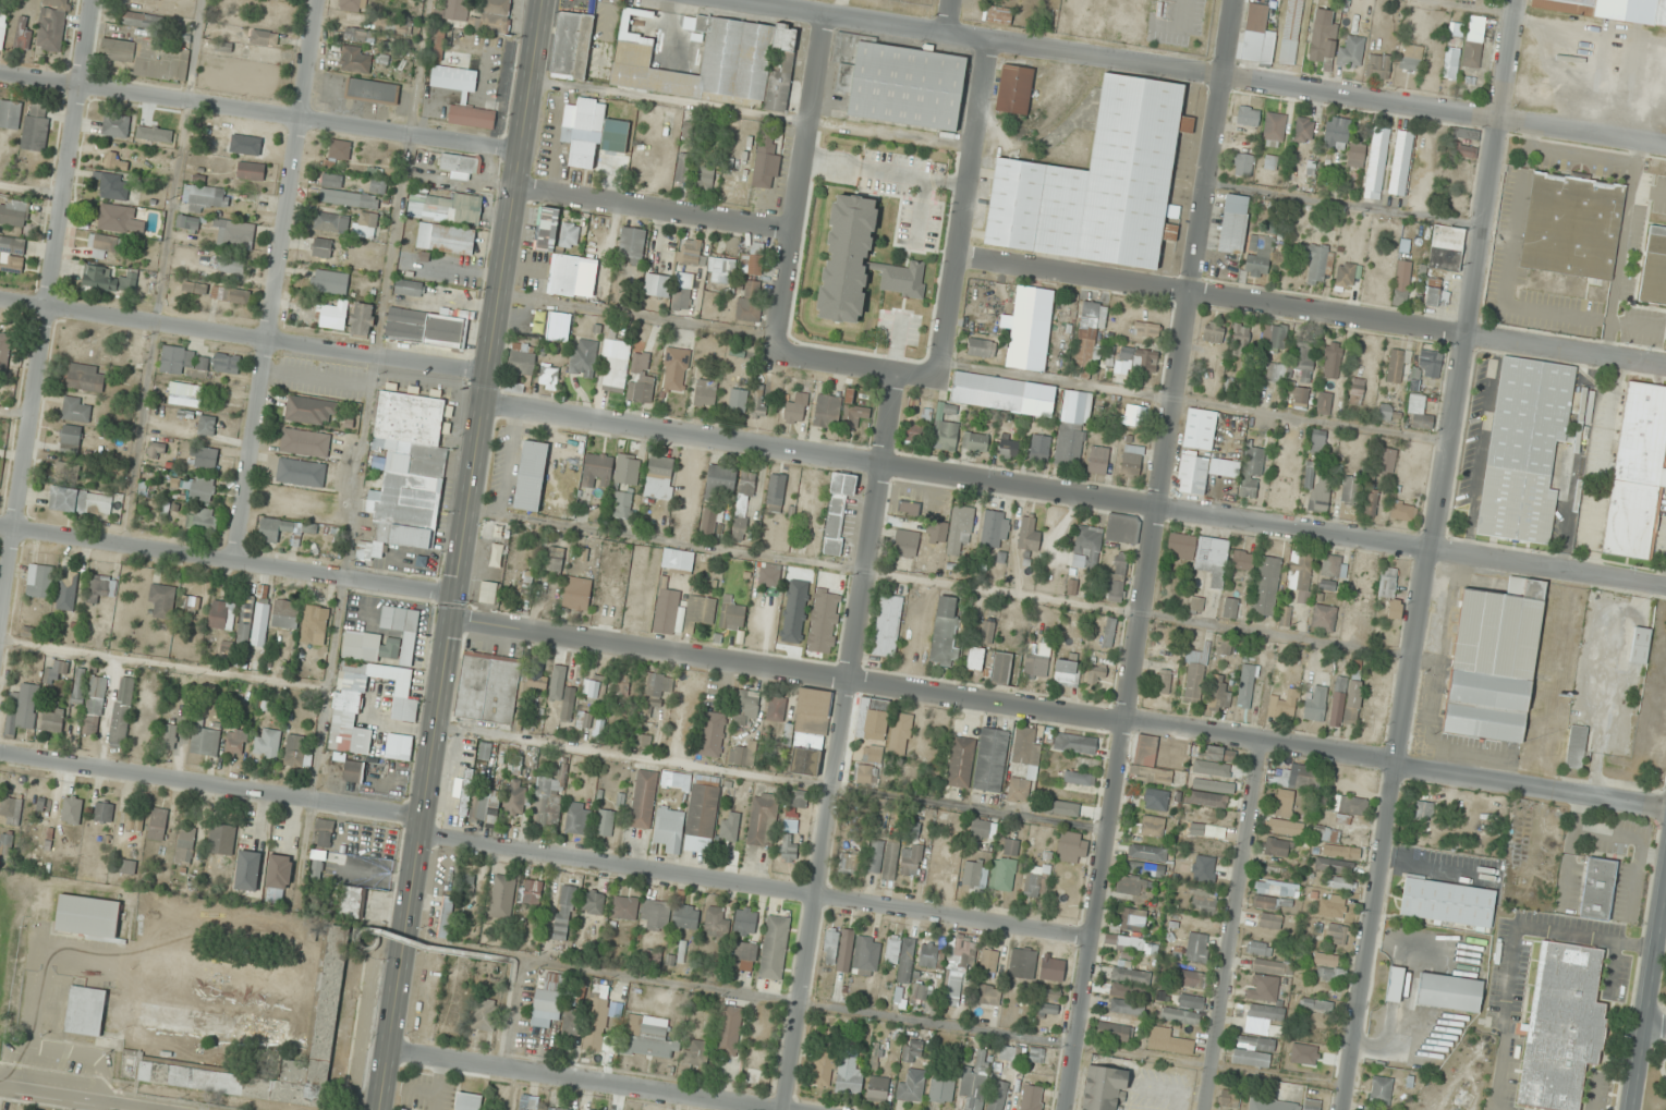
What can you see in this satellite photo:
building: (354, 4)
building: (496, 8)
building: (1612, 9)
building: (998, 15)
road: (948, 16)
building: (143, 21)
building: (52, 25)
building: (2, 27)
building: (1291, 32)
building: (22, 33)
building: (360, 35)
building: (1257, 35)
building: (264, 37)
building: (1323, 38)
building: (1474, 41)
building: (571, 45)
building: (1350, 51)
building: (148, 58)
building: (1410, 58)
building: (354, 59)
building: (715, 61)
building: (1450, 64)
building: (1378, 66)
road: (1199, 73)
building: (899, 83)
building: (1014, 89)
building: (372, 90)
building: (462, 97)
road: (260, 112)
building: (10, 113)
building: (586, 113)
building: (1248, 115)
building: (115, 125)
building: (160, 126)
building: (1273, 129)
building: (1303, 130)
building: (35, 133)
building: (1337, 133)
building: (1464, 133)
building: (340, 149)
building: (1466, 153)
building: (1355, 154)
building: (582, 155)
building: (115, 161)
building: (1270, 162)
building: (766, 163)
building: (1376, 163)
building: (1401, 163)
building: (1243, 164)
building: (460, 167)
road: (887, 168)
building: (251, 171)
building: (705, 178)
road: (801, 183)
building: (1098, 183)
building: (114, 186)
building: (377, 186)
building: (344, 194)
building: (206, 197)
building: (446, 208)
road: (965, 208)
road: (655, 209)
building: (13, 214)
building: (120, 219)
building: (187, 222)
building: (329, 222)
building: (1233, 224)
building: (1571, 224)
building: (365, 225)
building: (547, 229)
building: (1171, 232)
building: (234, 233)
building: (570, 235)
building: (446, 240)
building: (104, 244)
building: (632, 245)
building: (321, 247)
building: (1446, 248)
building: (692, 252)
building: (1258, 255)
building: (12, 256)
building: (753, 260)
building: (858, 261)
building: (1317, 264)
building: (231, 266)
building: (1654, 267)
building: (721, 270)
building: (1347, 273)
building: (567, 277)
building: (109, 280)
road: (277, 280)
building: (330, 282)
building: (1401, 283)
building: (657, 285)
building: (193, 286)
building: (410, 288)
building: (231, 295)
building: (1436, 296)
building: (681, 300)
building: (750, 303)
road: (1312, 312)
building: (333, 315)
road: (46, 319)
building: (362, 319)
building: (555, 325)
building: (426, 327)
building: (1033, 329)
building: (1146, 330)
building: (1214, 332)
road: (244, 336)
building: (1087, 338)
building: (1274, 338)
building: (1240, 340)
building: (4, 347)
building: (981, 347)
building: (127, 349)
building: (85, 350)
building: (584, 357)
building: (1139, 357)
building: (522, 358)
building: (175, 359)
building: (1303, 359)
building: (1333, 361)
building: (615, 362)
building: (227, 363)
building: (1430, 364)
road: (860, 365)
building: (1397, 366)
building: (676, 369)
building: (1275, 373)
building: (548, 376)
building: (86, 378)
building: (641, 381)
building: (1231, 385)
building: (983, 390)
building: (1357, 391)
building: (705, 393)
building: (186, 394)
building: (1299, 397)
building: (738, 402)
building: (1324, 403)
building: (757, 404)
building: (76, 408)
building: (309, 410)
building: (795, 410)
building: (827, 411)
building: (853, 412)
building: (1388, 413)
building: (1419, 413)
building: (1134, 415)
building: (207, 426)
building: (946, 427)
building: (1072, 427)
building: (1200, 429)
building: (915, 434)
building: (71, 435)
building: (1317, 441)
building: (305, 442)
building: (975, 442)
building: (1009, 447)
building: (1039, 448)
building: (1524, 449)
building: (156, 450)
building: (204, 456)
building: (1097, 460)
building: (1131, 461)
building: (1386, 461)
building: (1224, 467)
building: (597, 471)
building: (628, 471)
building: (405, 472)
building: (659, 472)
building: (1638, 472)
building: (301, 473)
building: (1252, 473)
building: (568, 474)
building: (531, 476)
building: (719, 481)
building: (1192, 487)
building: (202, 488)
building: (1318, 490)
building: (1350, 490)
building: (776, 493)
road: (1074, 495)
building: (807, 497)
building: (81, 502)
building: (1370, 503)
building: (743, 504)
building: (621, 507)
building: (909, 508)
building: (838, 512)
building: (1402, 513)
building: (709, 519)
building: (203, 520)
building: (282, 528)
building: (995, 528)
building: (956, 529)
building: (1122, 529)
building: (1027, 535)
building: (904, 545)
building: (1086, 546)
road: (462, 554)
road: (1153, 554)
building: (1202, 554)
road: (1431, 554)
building: (496, 556)
road: (228, 559)
building: (555, 559)
building: (1243, 560)
building: (678, 561)
building: (1334, 566)
building: (1300, 574)
building: (769, 575)
building: (526, 581)
building: (1117, 581)
building: (39, 582)
building: (1266, 586)
building: (102, 587)
building: (68, 590)
building: (1390, 593)
building: (488, 594)
building: (576, 595)
traffic signals: (457, 596)
building: (161, 601)
building: (190, 603)
building: (1196, 605)
building: (1230, 608)
building: (700, 610)
building: (666, 611)
building: (285, 613)
building: (731, 614)
building: (221, 615)
building: (1285, 617)
building: (1323, 618)
building: (253, 619)
traffic signals: (452, 621)
building: (822, 623)
building: (315, 624)
building: (888, 625)
building: (945, 631)
building: (28, 632)
building: (986, 632)
building: (1109, 632)
building: (1639, 645)
railway: (1593, 654)
building: (975, 658)
building: (1036, 661)
building: (1494, 661)
building: (1001, 668)
building: (54, 671)
building: (1067, 673)
building: (1096, 673)
building: (374, 675)
building: (1194, 678)
building: (623, 682)
building: (1163, 682)
building: (1245, 685)
building: (78, 686)
building: (658, 687)
building: (496, 688)
building: (594, 690)
building: (563, 694)
building: (1218, 695)
building: (1346, 700)
building: (1315, 703)
building: (95, 706)
building: (1282, 706)
building: (746, 707)
building: (776, 709)
building: (23, 710)
road: (1059, 710)
building: (121, 712)
building: (872, 718)
building: (52, 720)
building: (584, 720)
building: (810, 731)
building: (900, 734)
building: (713, 735)
building: (168, 736)
road: (842, 740)
building: (644, 741)
building: (235, 742)
building: (205, 743)
building: (266, 743)
building: (1075, 744)
building: (1576, 747)
building: (294, 749)
building: (485, 751)
building: (1214, 753)
building: (744, 754)
building: (990, 759)
building: (960, 761)
building: (1147, 761)
building: (1025, 763)
building: (1225, 771)
building: (344, 772)
building: (863, 774)
building: (1079, 778)
building: (1299, 779)
building: (676, 780)
road: (211, 785)
building: (465, 792)
building: (514, 797)
building: (643, 798)
building: (799, 800)
building: (1156, 800)
building: (1206, 800)
building: (549, 803)
building: (1284, 804)
building: (488, 806)
building: (1350, 806)
building: (1069, 807)
building: (10, 810)
building: (102, 812)
building: (1423, 812)
building: (702, 818)
building: (763, 819)
building: (135, 820)
building: (576, 820)
building: (157, 824)
building: (606, 824)
building: (790, 826)
building: (1152, 827)
building: (1285, 827)
building: (732, 828)
building: (981, 828)
building: (669, 829)
building: (324, 833)
building: (40, 838)
building: (221, 839)
building: (5, 843)
building: (184, 845)
building: (1072, 846)
building: (789, 847)
building: (1011, 847)
building: (1277, 847)
building: (1343, 852)
building: (1147, 853)
building: (876, 856)
building: (911, 859)
building: (850, 863)
building: (890, 863)
building: (127, 866)
building: (1331, 866)
building: (1203, 868)
building: (247, 870)
building: (321, 870)
building: (973, 874)
building: (1004, 874)
building: (278, 879)
building: (1036, 881)
building: (466, 883)
building: (1340, 883)
road: (758, 885)
building: (1131, 887)
building: (1269, 889)
building: (1597, 889)
building: (532, 892)
building: (501, 896)
building: (350, 900)
building: (1205, 902)
building: (1447, 902)
building: (594, 903)
building: (1272, 903)
building: (1331, 906)
building: (624, 907)
building: (564, 912)
building: (655, 915)
building: (685, 916)
building: (87, 917)
building: (446, 918)
building: (1133, 920)
building: (1269, 920)
building: (716, 922)
building: (745, 922)
road: (1236, 926)
building: (1336, 935)
building: (774, 948)
building: (1197, 948)
building: (838, 949)
building: (1260, 949)
building: (746, 952)
building: (866, 953)
building: (928, 954)
building: (650, 955)
building: (900, 956)
building: (988, 961)
building: (1023, 964)
building: (958, 966)
building: (1272, 966)
building: (1327, 967)
building: (218, 972)
building: (1131, 977)
building: (1193, 979)
road: (1649, 979)
building: (1394, 985)
building: (1262, 988)
building: (920, 992)
building: (1449, 992)
building: (577, 993)
building: (988, 996)
building: (548, 1001)
building: (1191, 1001)
building: (1315, 1005)
building: (1127, 1008)
building: (1046, 1009)
building: (85, 1011)
building: (484, 1014)
building: (597, 1016)
building: (1180, 1016)
building: (571, 1021)
building: (1264, 1021)
building: (211, 1023)
road: (1655, 1023)
building: (320, 1026)
building: (1561, 1026)
building: (729, 1032)
building: (1114, 1033)
building: (647, 1037)
building: (1168, 1041)
building: (912, 1051)
building: (695, 1052)
building: (1253, 1052)
building: (1036, 1054)
building: (1009, 1056)
building: (823, 1070)
road: (591, 1079)
building: (848, 1079)
building: (975, 1081)
building: (878, 1088)
building: (911, 1088)
building: (1103, 1088)
building: (941, 1089)
building: (1381, 1090)
building: (997, 1095)
building: (1032, 1097)
road: (73, 1098)
building: (1228, 1099)
building: (467, 1101)
building: (1270, 1105)
building: (556, 1109)

